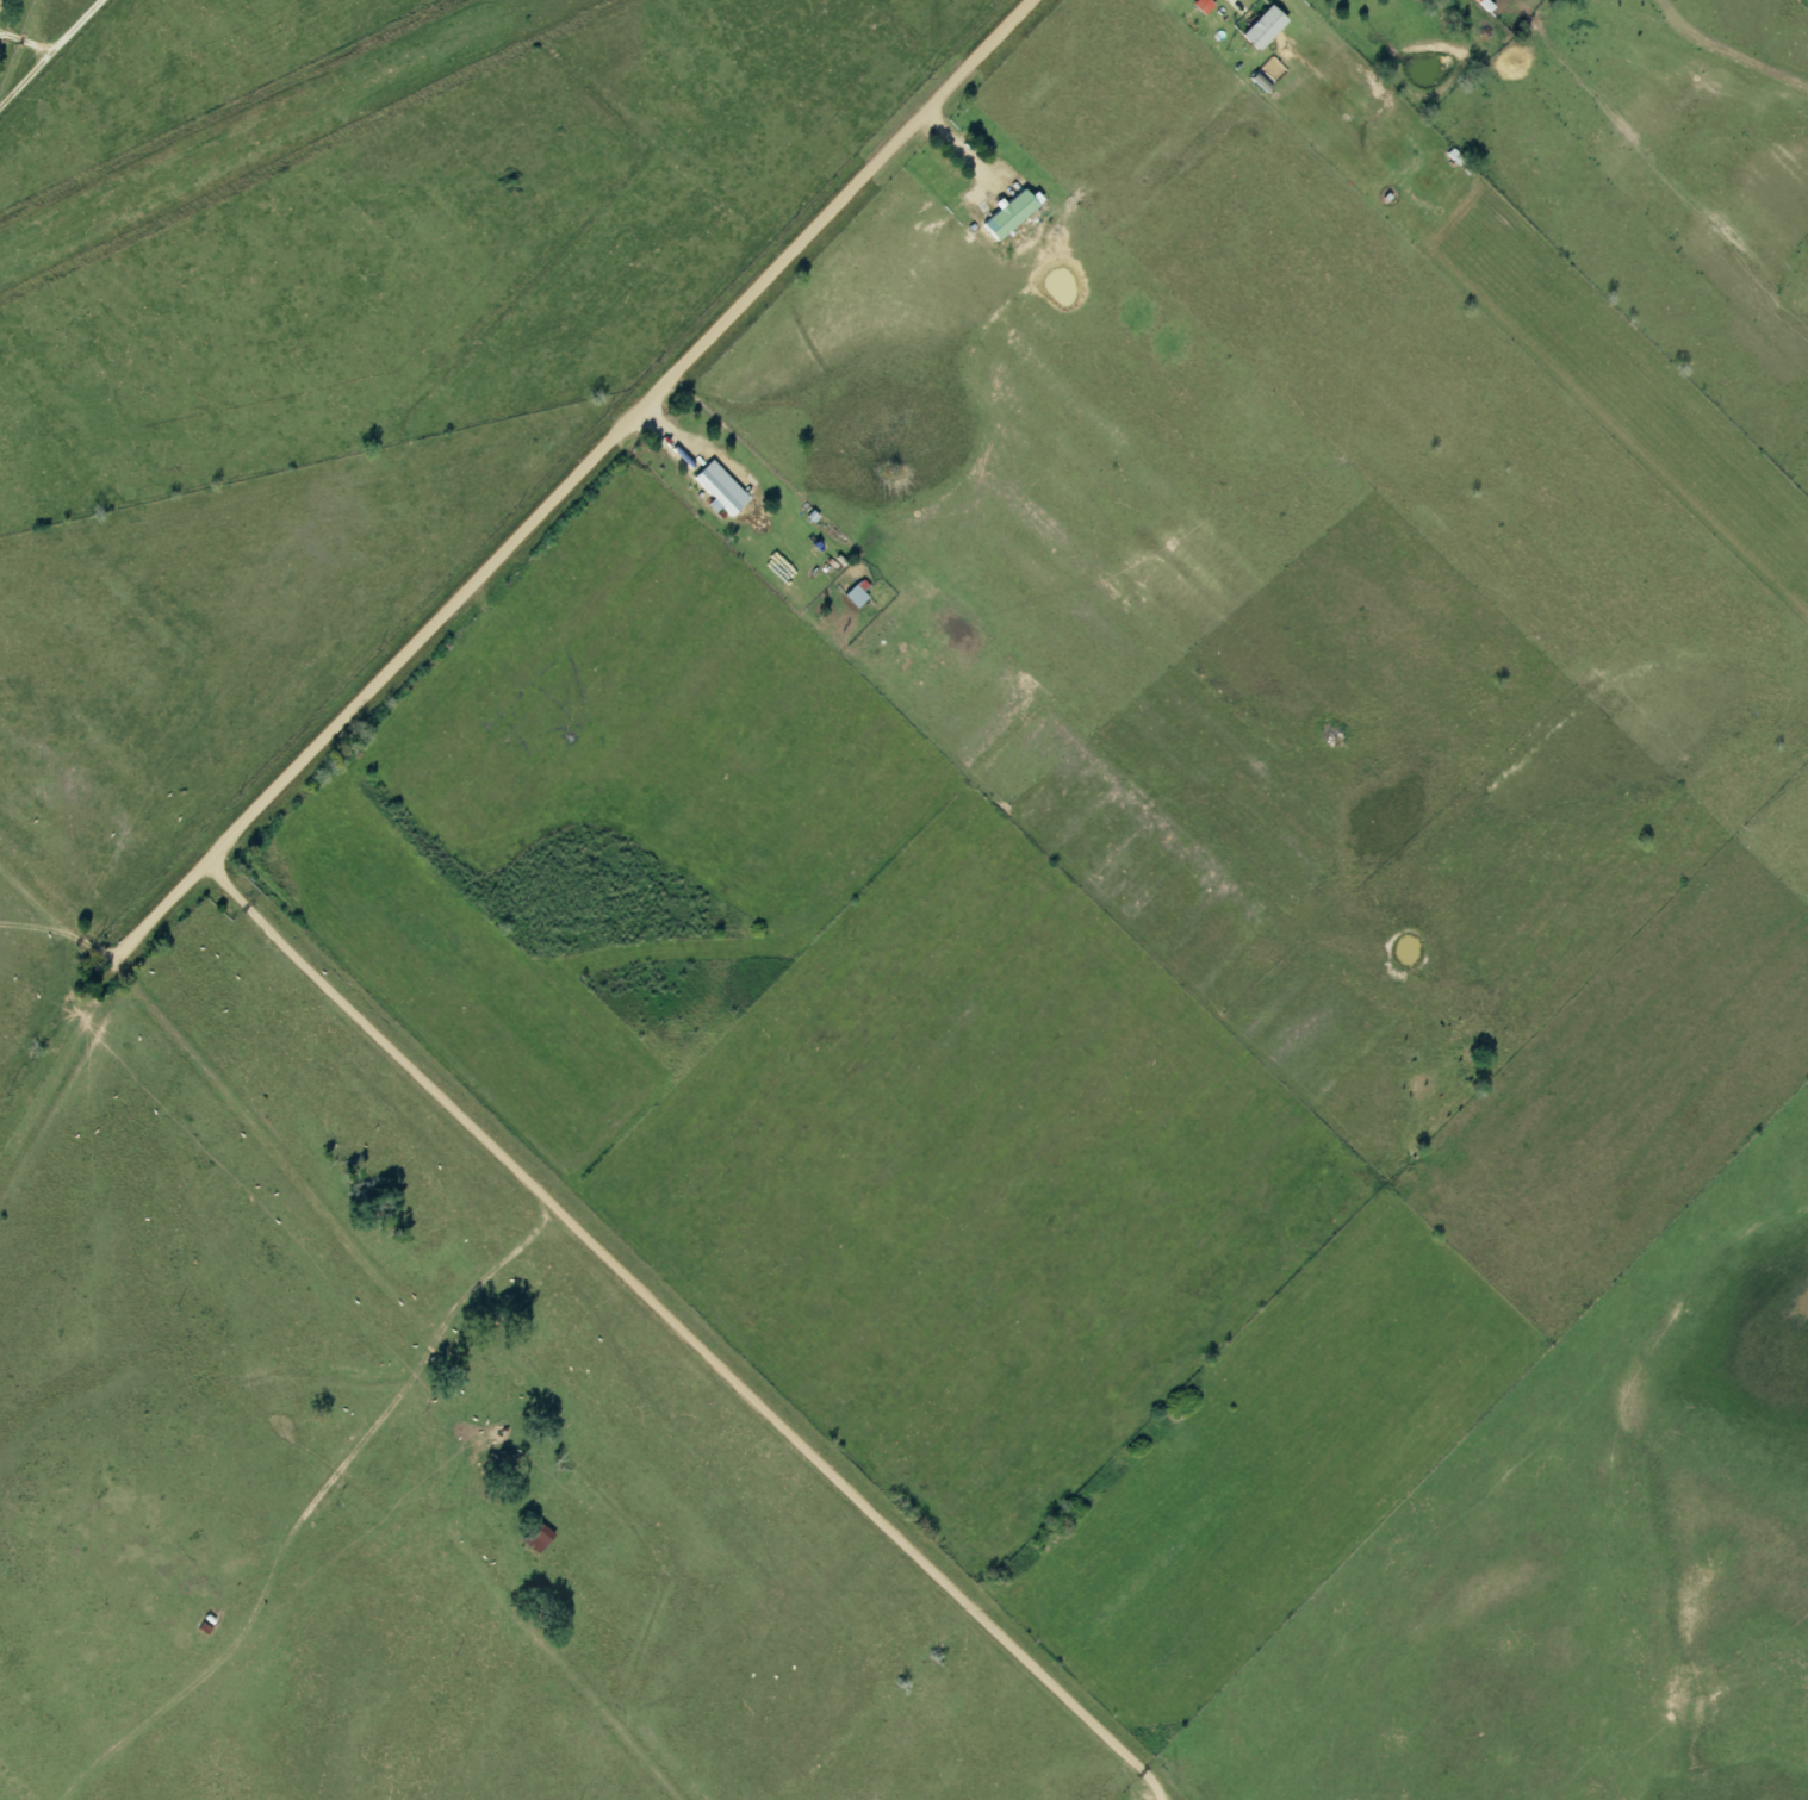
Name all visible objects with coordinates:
road: (1234, 4)
building: (1201, 6)
building: (1262, 29)
road: (46, 48)
airport runway: (268, 130)
airport: (268, 131)
road: (957, 167)
building: (1011, 214)
road: (571, 482)
building: (720, 490)
road: (21, 921)
road: (55, 930)
road: (681, 1331)

